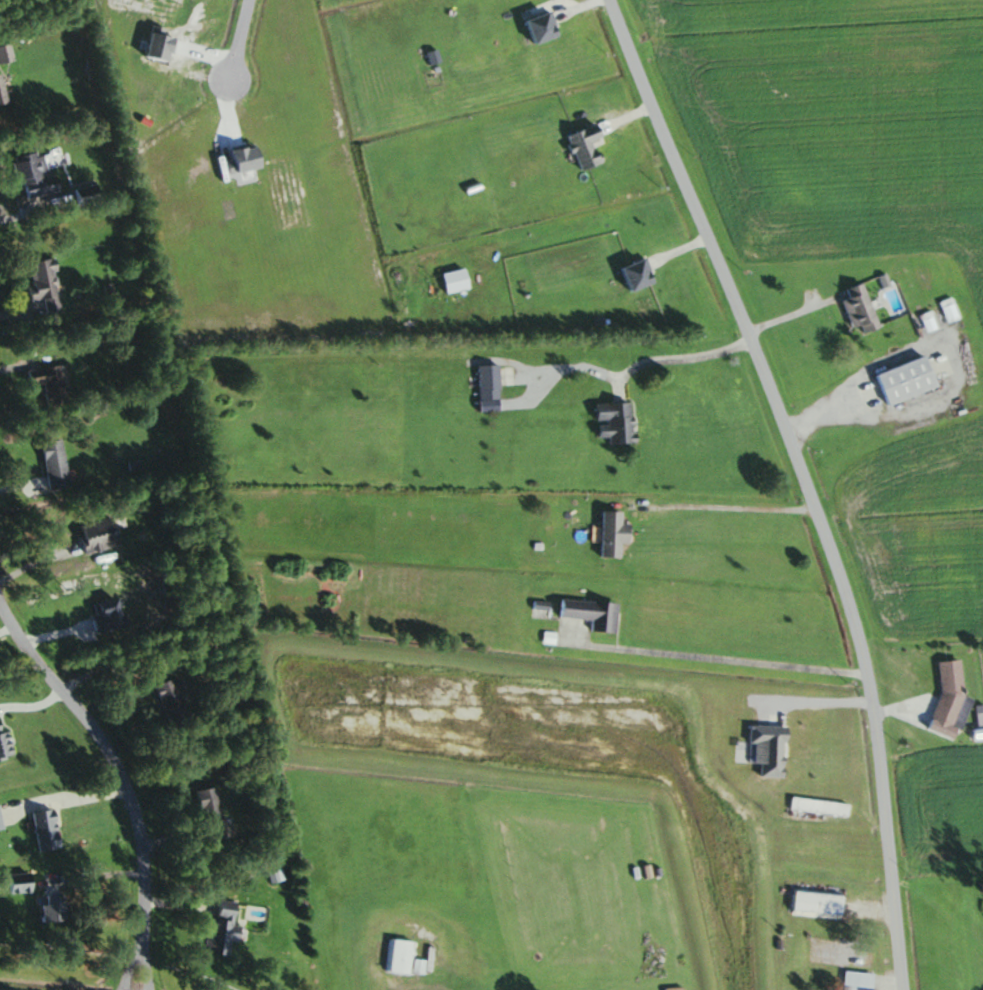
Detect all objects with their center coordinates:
road: (237, 38)
building: (4, 90)
building: (36, 176)
building: (90, 192)
building: (46, 285)
building: (862, 309)
building: (950, 310)
road: (789, 314)
road: (637, 364)
building: (908, 381)
building: (490, 382)
building: (52, 384)
building: (617, 422)
building: (55, 464)
road: (802, 483)
road: (723, 505)
building: (615, 534)
building: (98, 536)
building: (593, 613)
road: (721, 658)
building: (951, 700)
building: (174, 704)
building: (5, 740)
building: (793, 744)
road: (117, 782)
building: (820, 807)
building: (212, 814)
building: (1, 820)
building: (48, 830)
building: (20, 883)
building: (809, 903)
building: (57, 909)
building: (225, 928)
building: (403, 956)
building: (852, 980)

